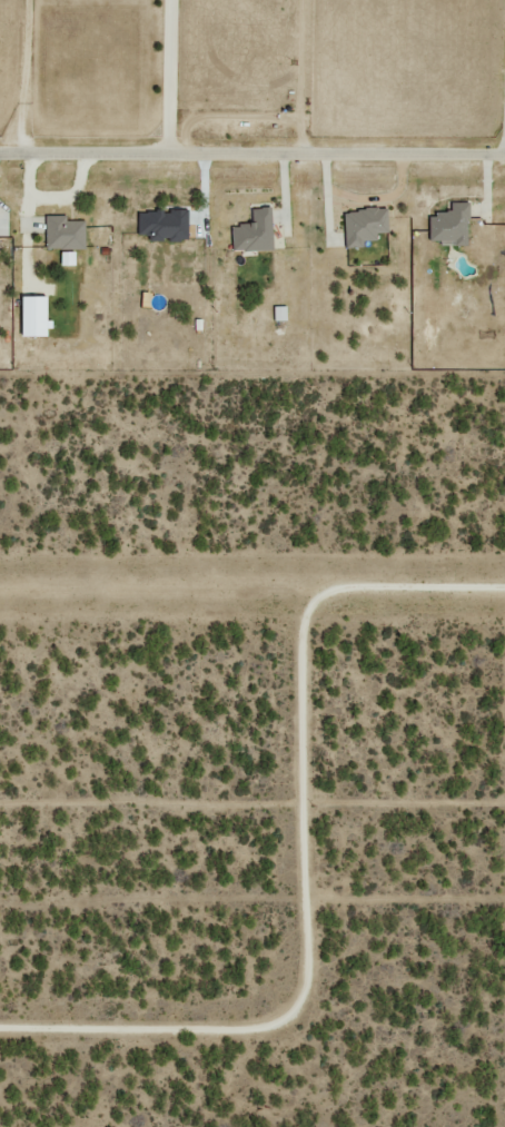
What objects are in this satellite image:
road: (21, 76)
road: (253, 151)
building: (160, 224)
building: (362, 224)
building: (447, 224)
building: (62, 231)
building: (251, 231)
building: (279, 312)
building: (31, 316)
road: (301, 854)

